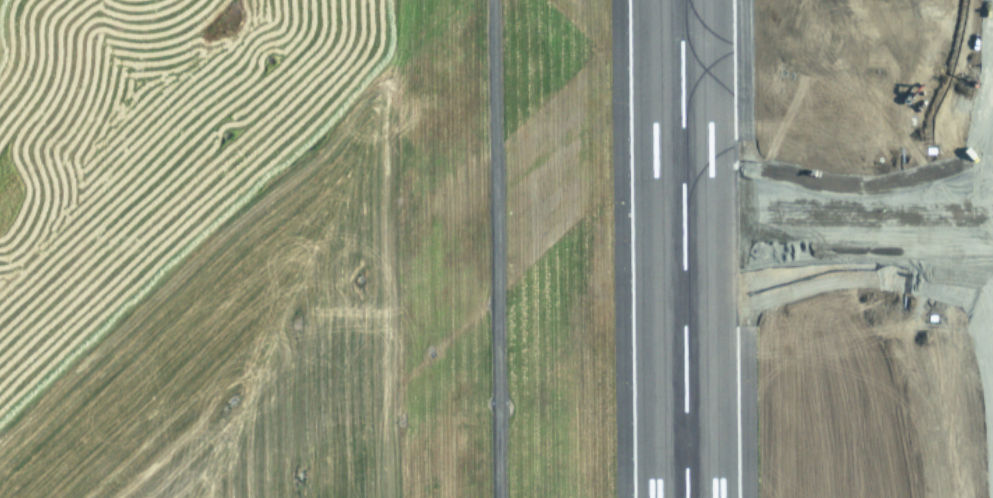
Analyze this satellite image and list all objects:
crop: (891, 5)
airport taxiway: (827, 49)
airport taxiway: (699, 76)
crop: (922, 138)
crop: (149, 144)
airport taxiway: (722, 152)
airport taxiway: (818, 176)
airport runway: (682, 248)
airport runway: (752, 248)
airport: (496, 249)
road: (498, 249)
crop: (507, 249)
airport runway: (611, 249)
crop: (249, 348)
crop: (860, 380)

